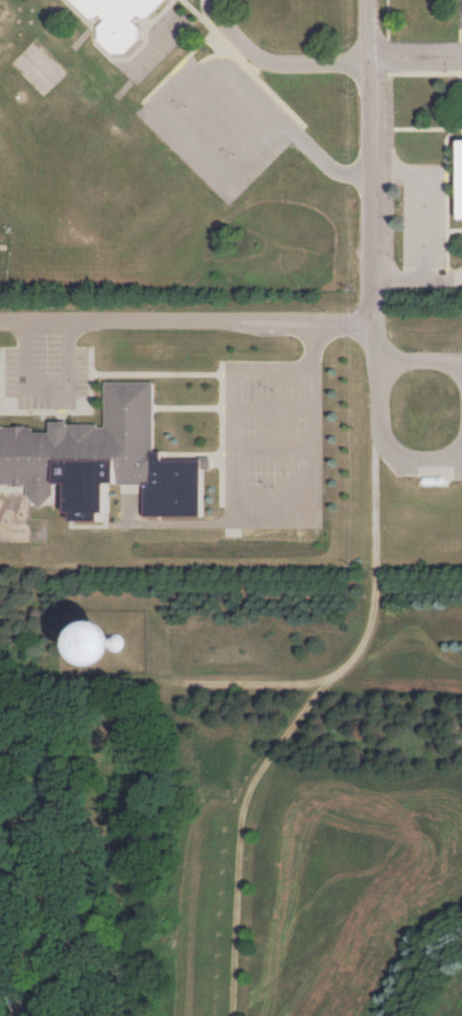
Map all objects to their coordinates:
building: (119, 20)
road: (417, 55)
road: (279, 62)
road: (201, 76)
road: (226, 114)
road: (375, 180)
road: (424, 229)
road: (304, 317)
road: (116, 319)
road: (303, 328)
road: (420, 361)
road: (48, 382)
road: (379, 410)
building: (104, 459)
road: (428, 459)
road: (255, 506)
road: (17, 891)
road: (85, 916)
road: (59, 982)

